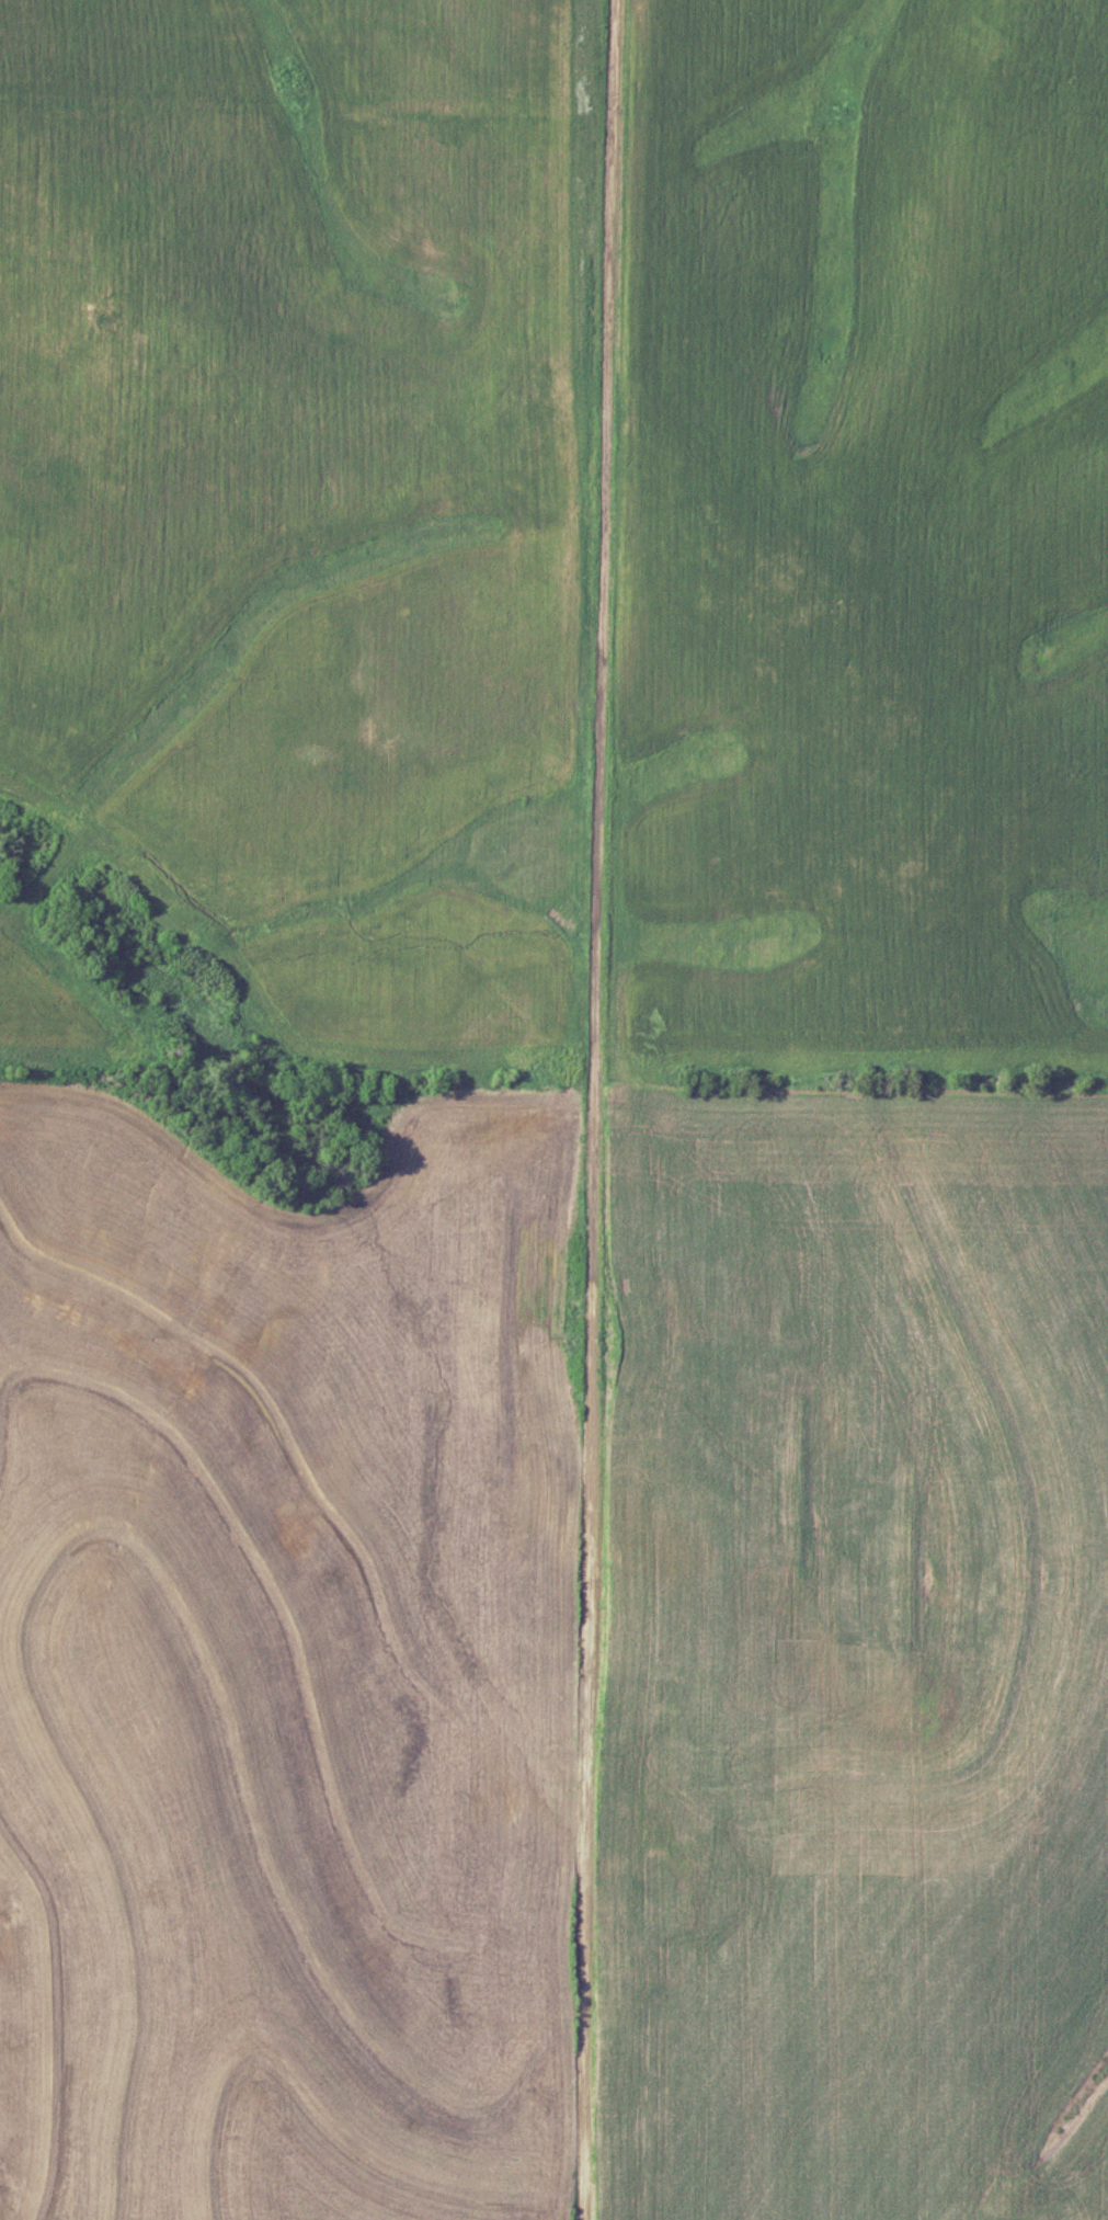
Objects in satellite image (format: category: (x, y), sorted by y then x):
road: (597, 1109)

